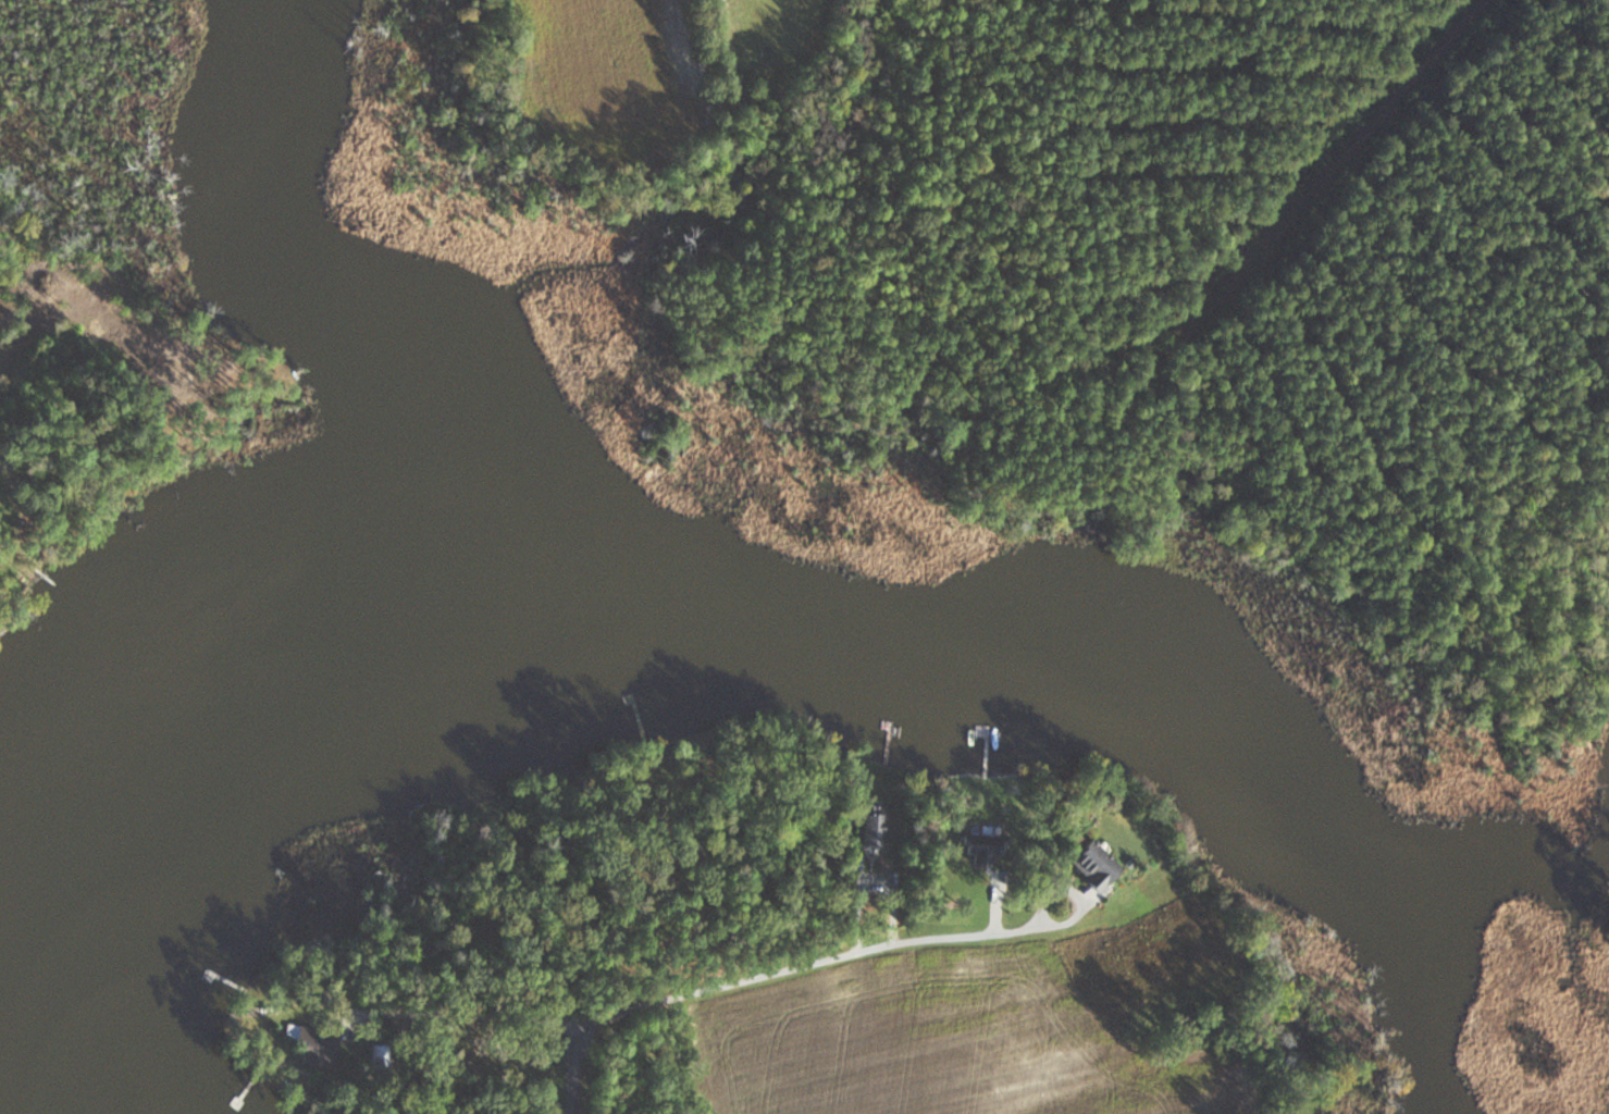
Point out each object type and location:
road: (1383, 113)
building: (869, 826)
building: (1092, 864)
road: (1078, 912)
road: (744, 978)
road: (462, 1048)

